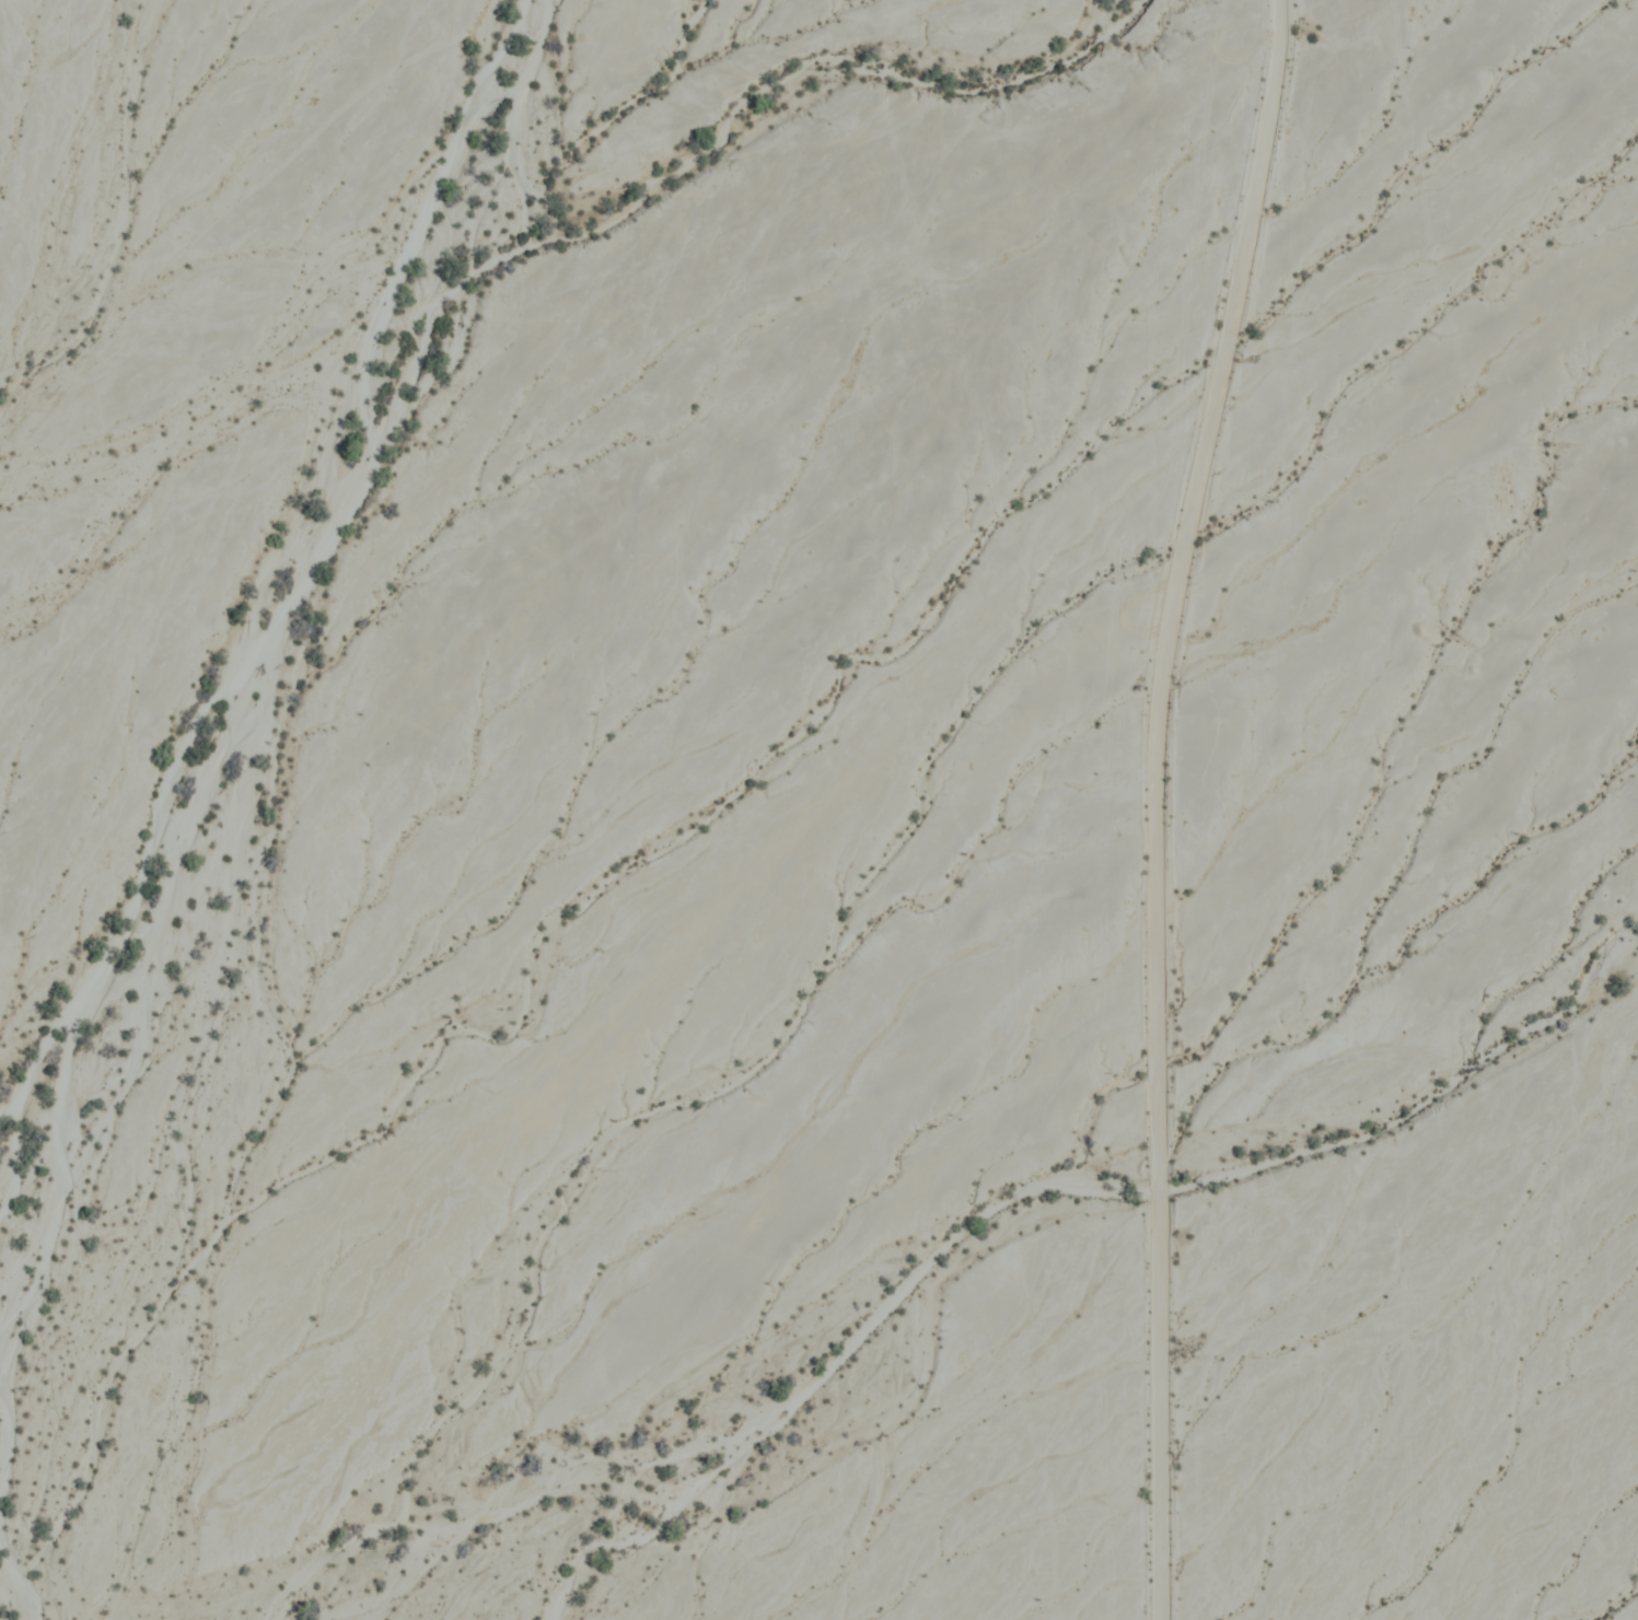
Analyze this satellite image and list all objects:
road: (1147, 796)

